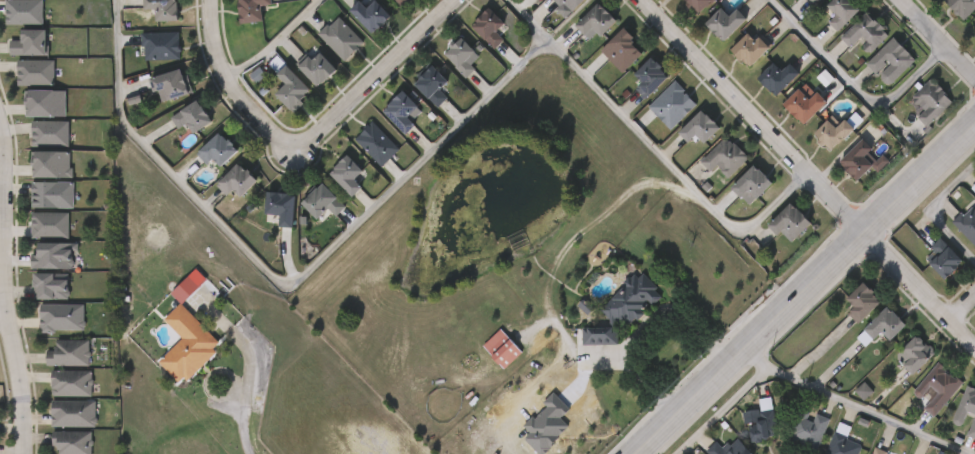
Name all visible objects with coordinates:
building: (401, 1)
building: (654, 1)
building: (811, 1)
building: (143, 2)
building: (526, 3)
building: (107, 4)
building: (702, 4)
building: (570, 5)
building: (961, 7)
building: (164, 9)
building: (252, 9)
building: (22, 10)
building: (842, 11)
building: (371, 13)
building: (683, 14)
building: (552, 15)
building: (235, 22)
building: (598, 22)
building: (727, 22)
building: (145, 23)
building: (491, 26)
building: (12, 28)
building: (864, 31)
building: (973, 35)
road: (936, 36)
building: (340, 37)
road: (269, 39)
building: (578, 39)
building: (707, 40)
building: (32, 44)
building: (160, 44)
building: (471, 44)
building: (752, 48)
building: (624, 50)
building: (462, 54)
building: (16, 59)
building: (890, 59)
building: (143, 62)
building: (318, 66)
building: (733, 66)
building: (603, 67)
building: (37, 73)
building: (443, 73)
building: (777, 76)
building: (651, 78)
road: (373, 79)
building: (170, 83)
road: (852, 83)
building: (434, 84)
building: (293, 87)
building: (18, 89)
road: (229, 89)
building: (631, 95)
building: (754, 95)
building: (930, 100)
building: (154, 101)
building: (414, 102)
building: (804, 103)
building: (48, 104)
building: (673, 105)
building: (274, 106)
building: (403, 110)
building: (191, 116)
building: (28, 119)
building: (654, 122)
building: (702, 127)
building: (384, 128)
building: (833, 131)
building: (175, 133)
building: (51, 134)
building: (377, 142)
building: (682, 144)
road: (655, 145)
building: (217, 149)
building: (33, 150)
building: (726, 158)
building: (861, 159)
building: (359, 160)
building: (53, 165)
building: (200, 166)
building: (349, 173)
road: (808, 173)
building: (706, 174)
building: (237, 179)
building: (34, 180)
building: (753, 185)
building: (54, 196)
building: (219, 197)
building: (324, 200)
building: (728, 201)
building: (282, 206)
road: (936, 208)
building: (35, 211)
building: (304, 218)
building: (792, 221)
building: (265, 224)
building: (966, 225)
building: (51, 226)
building: (33, 241)
building: (54, 257)
building: (940, 259)
building: (37, 272)
road: (291, 274)
road: (7, 287)
building: (53, 287)
road: (807, 289)
building: (34, 302)
building: (858, 302)
road: (963, 310)
road: (4, 317)
building: (63, 318)
building: (880, 325)
building: (607, 327)
road: (641, 331)
building: (44, 333)
building: (69, 354)
building: (911, 354)
building: (170, 360)
building: (483, 364)
building: (52, 369)
building: (71, 384)
building: (936, 389)
road: (250, 396)
building: (54, 399)
road: (852, 405)
road: (720, 409)
building: (966, 410)
building: (73, 414)
building: (761, 422)
building: (807, 428)
building: (56, 429)
building: (840, 441)
building: (73, 442)
building: (725, 448)
building: (54, 450)
building: (875, 451)

